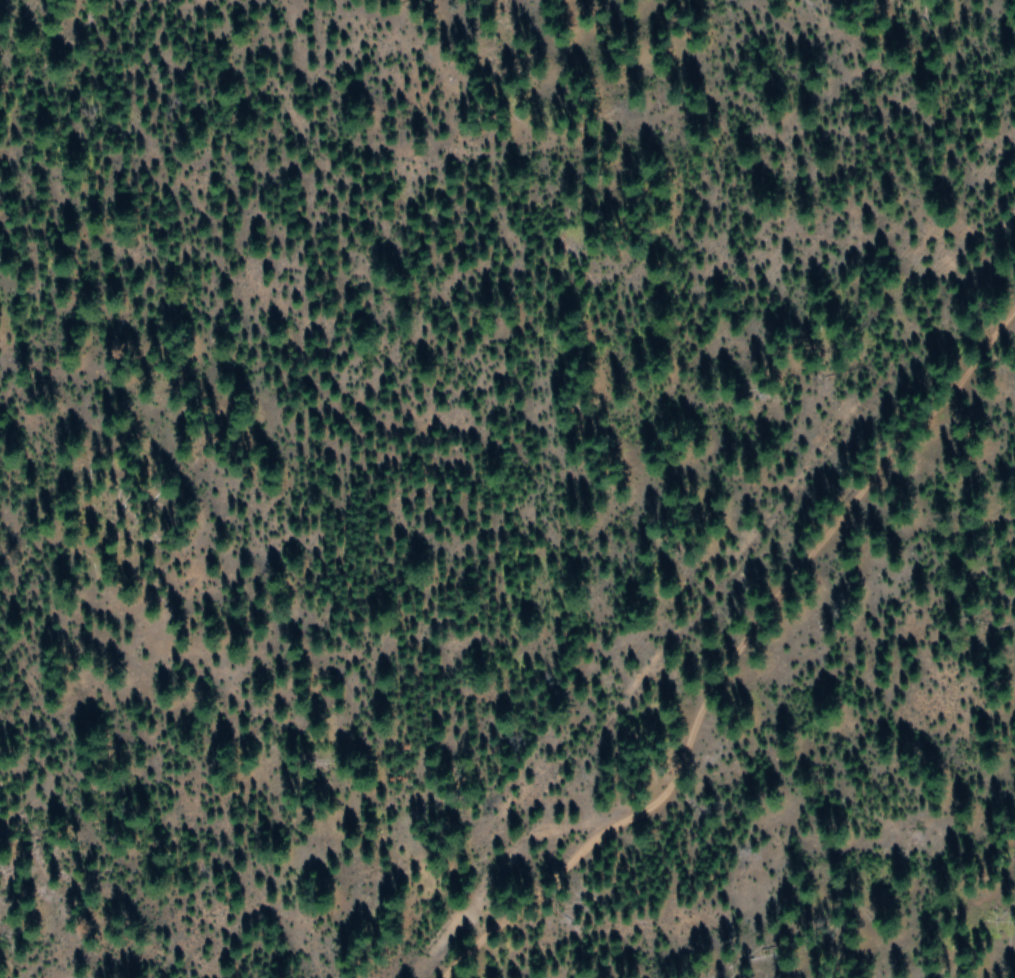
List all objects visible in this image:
road: (736, 640)

